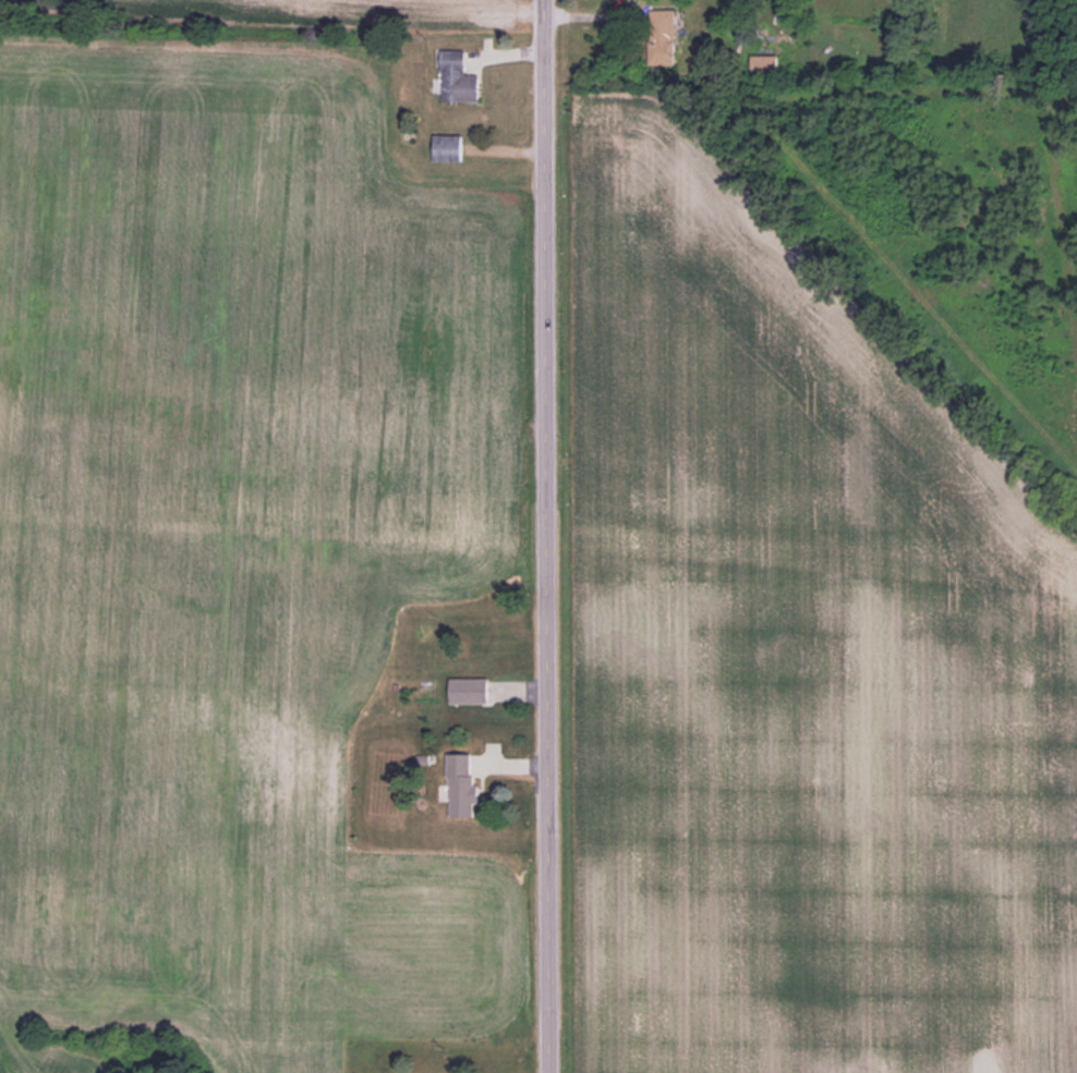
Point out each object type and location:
building: (659, 36)
building: (763, 63)
building: (456, 80)
building: (446, 149)
road: (547, 536)
building: (467, 641)
crop: (797, 660)
building: (467, 691)
building: (460, 785)

